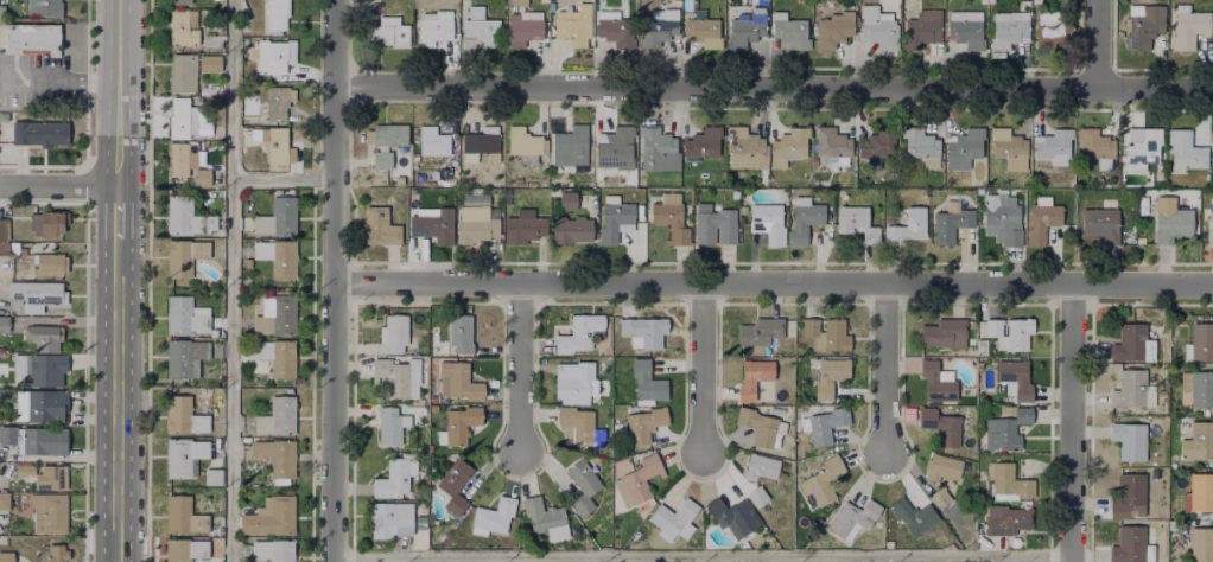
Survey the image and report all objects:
building: (180, 1)
building: (516, 1)
building: (45, 7)
building: (275, 14)
building: (573, 24)
building: (1143, 24)
building: (182, 26)
building: (433, 26)
building: (480, 26)
building: (522, 26)
building: (656, 26)
building: (877, 26)
building: (1189, 26)
building: (745, 27)
building: (921, 27)
building: (964, 27)
building: (1050, 27)
building: (614, 28)
building: (788, 28)
building: (1006, 28)
building: (703, 30)
building: (831, 30)
building: (388, 31)
building: (1117, 33)
building: (34, 36)
building: (210, 39)
road: (1100, 47)
building: (269, 56)
building: (208, 62)
building: (180, 72)
road: (61, 83)
road: (774, 91)
road: (120, 94)
building: (273, 101)
building: (177, 116)
building: (40, 130)
building: (388, 133)
building: (273, 136)
building: (481, 139)
building: (432, 140)
building: (700, 141)
building: (525, 142)
building: (878, 142)
building: (832, 143)
building: (570, 145)
building: (788, 145)
building: (921, 145)
building: (1053, 145)
building: (1094, 145)
building: (612, 146)
building: (744, 146)
building: (963, 146)
building: (1142, 146)
building: (1009, 148)
building: (656, 149)
building: (1186, 149)
building: (176, 158)
building: (381, 158)
building: (199, 175)
road: (285, 180)
road: (59, 190)
building: (566, 198)
building: (474, 200)
road: (120, 213)
building: (277, 216)
building: (668, 216)
building: (1043, 216)
building: (185, 217)
building: (614, 217)
building: (804, 217)
building: (1001, 217)
building: (767, 221)
building: (1170, 221)
building: (1211, 221)
building: (857, 222)
building: (47, 223)
building: (431, 223)
building: (474, 223)
building: (950, 223)
building: (1099, 223)
building: (713, 224)
building: (377, 225)
building: (523, 225)
building: (907, 225)
building: (5, 229)
building: (569, 229)
building: (183, 255)
building: (275, 256)
building: (51, 263)
road: (336, 280)
road: (233, 281)
road: (775, 287)
building: (38, 294)
building: (272, 314)
building: (182, 315)
building: (5, 325)
building: (941, 326)
building: (459, 331)
building: (642, 331)
building: (760, 331)
building: (393, 332)
building: (579, 332)
building: (1010, 332)
building: (825, 333)
building: (44, 336)
building: (1199, 340)
building: (1133, 341)
building: (182, 355)
building: (274, 356)
building: (45, 369)
road: (701, 370)
road: (887, 370)
road: (519, 372)
building: (830, 375)
building: (395, 376)
building: (754, 376)
building: (1015, 377)
building: (574, 379)
building: (458, 381)
building: (646, 381)
building: (936, 381)
building: (1199, 387)
building: (1130, 389)
road: (120, 400)
building: (42, 405)
building: (182, 416)
building: (275, 416)
building: (457, 423)
building: (643, 423)
building: (389, 424)
building: (760, 424)
building: (821, 424)
road: (1073, 424)
building: (577, 426)
building: (939, 426)
building: (1006, 428)
building: (37, 439)
building: (1129, 440)
building: (1199, 440)
building: (182, 456)
building: (275, 456)
building: (760, 466)
building: (941, 466)
building: (25, 468)
building: (1152, 473)
building: (50, 477)
building: (210, 477)
building: (393, 478)
building: (639, 478)
building: (821, 480)
building: (1005, 481)
building: (582, 485)
building: (452, 486)
building: (1199, 492)
building: (1129, 493)
building: (756, 496)
building: (939, 497)
building: (4, 502)
building: (50, 512)
building: (182, 515)
building: (495, 515)
building: (731, 515)
building: (913, 515)
building: (269, 516)
building: (541, 517)
building: (852, 517)
building: (390, 518)
building: (674, 518)
building: (1006, 519)
building: (1201, 544)
building: (1131, 545)
building: (184, 549)
building: (272, 550)
building: (51, 553)
building: (6, 554)
road: (704, 557)

